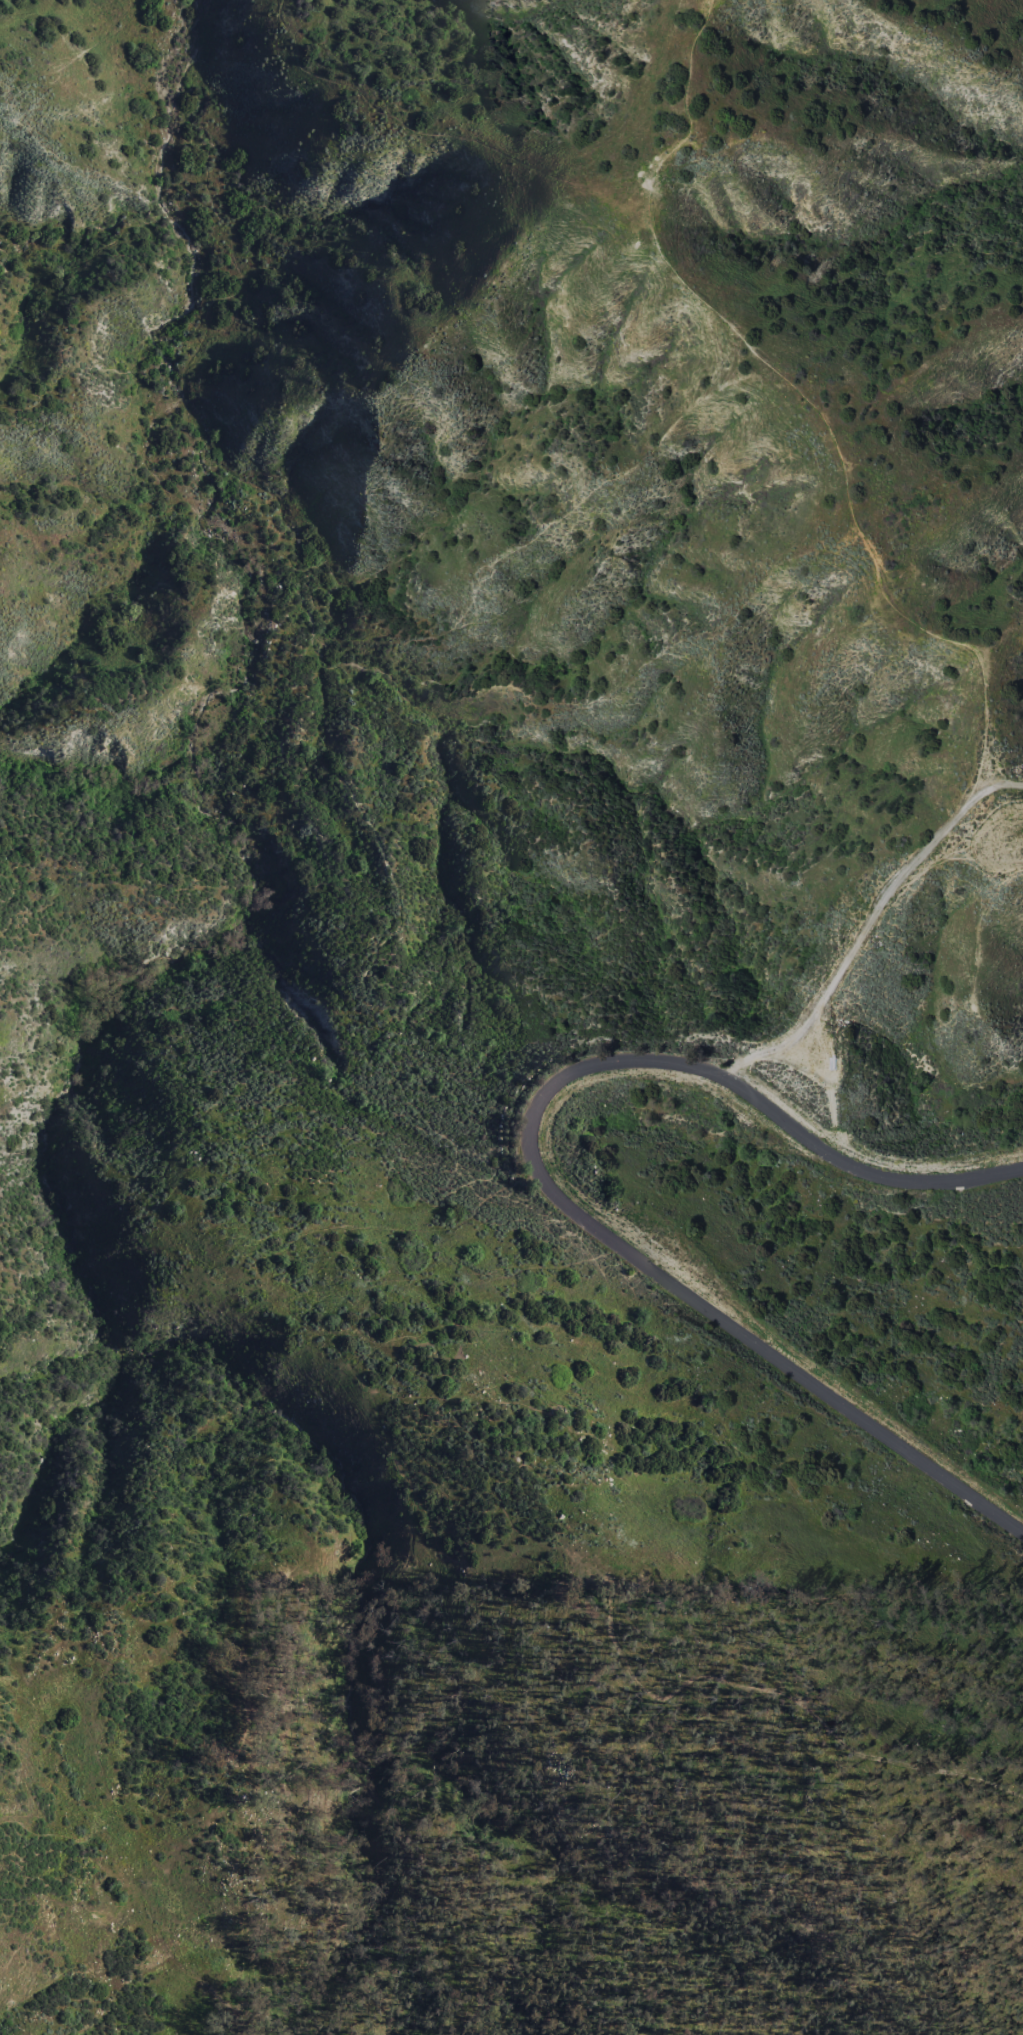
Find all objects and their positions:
road: (537, 1174)

